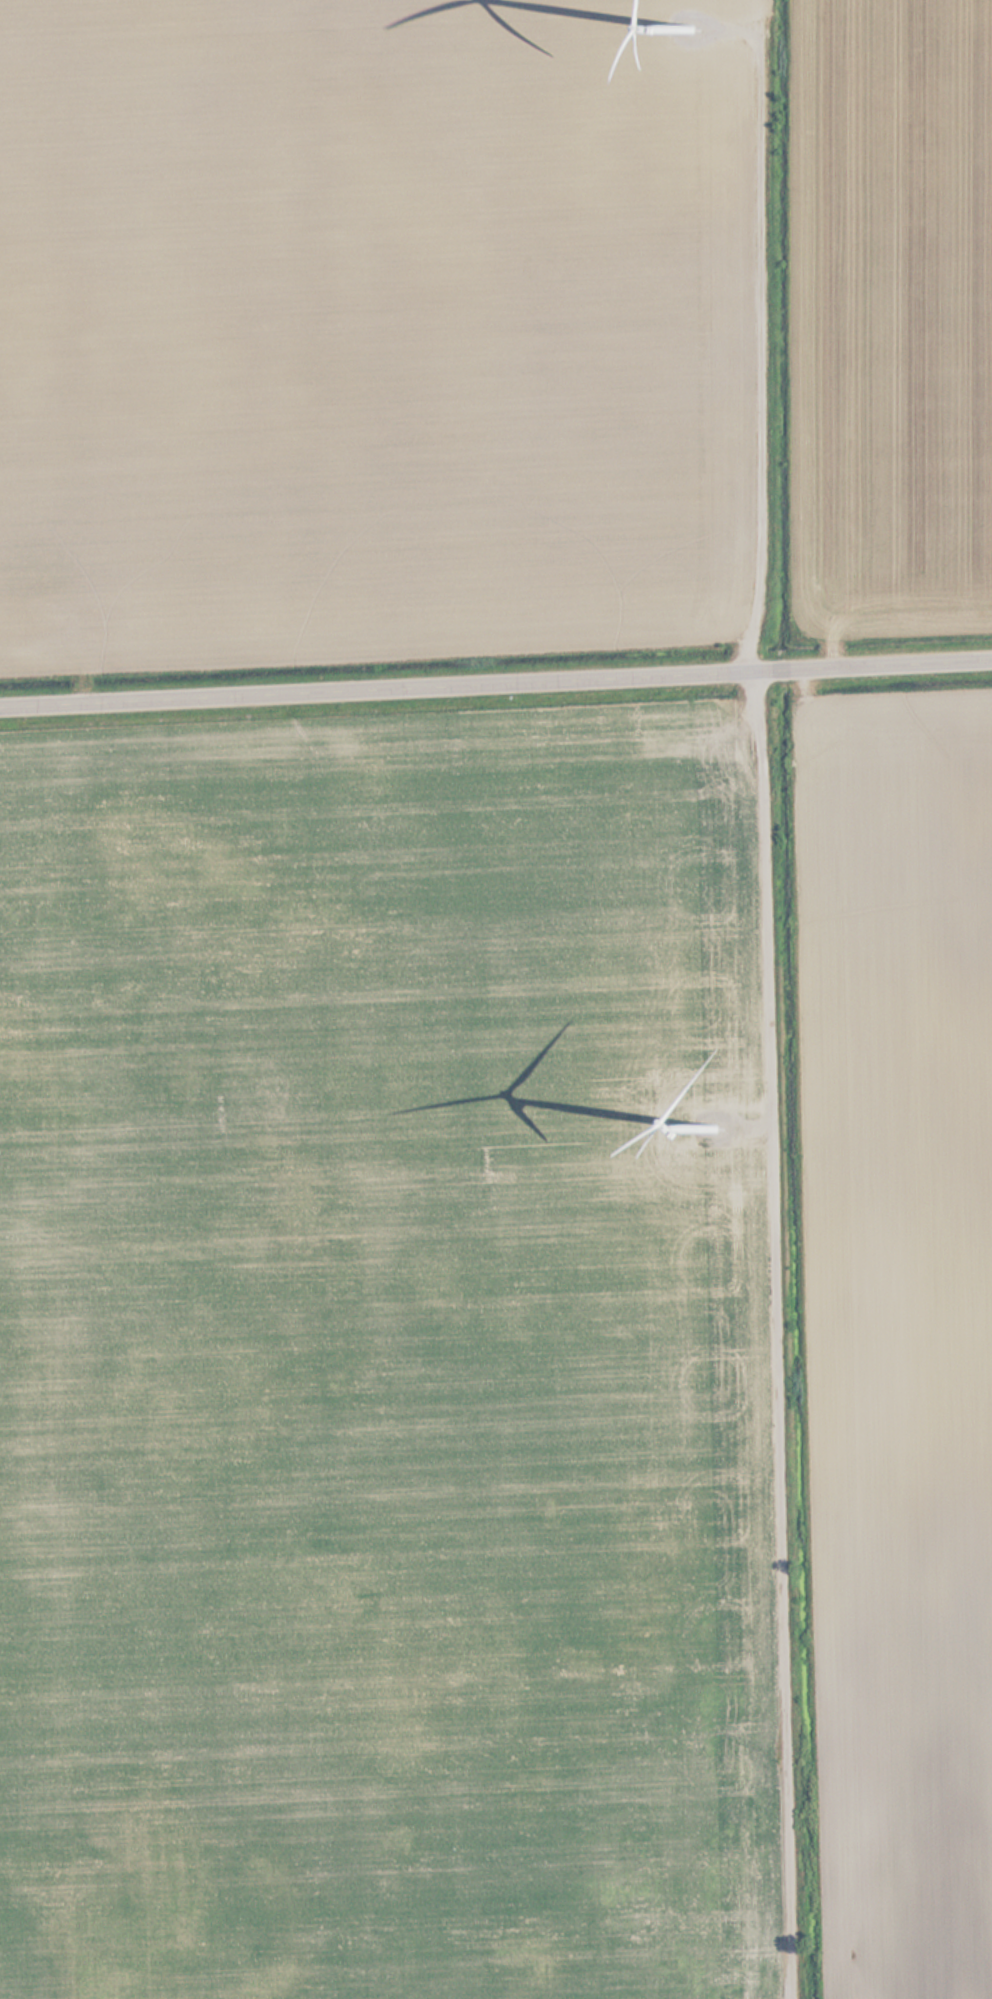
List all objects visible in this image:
wind turbine: (694, 27)
road: (760, 336)
road: (495, 681)
wind turbine: (714, 1131)
road: (773, 1334)

